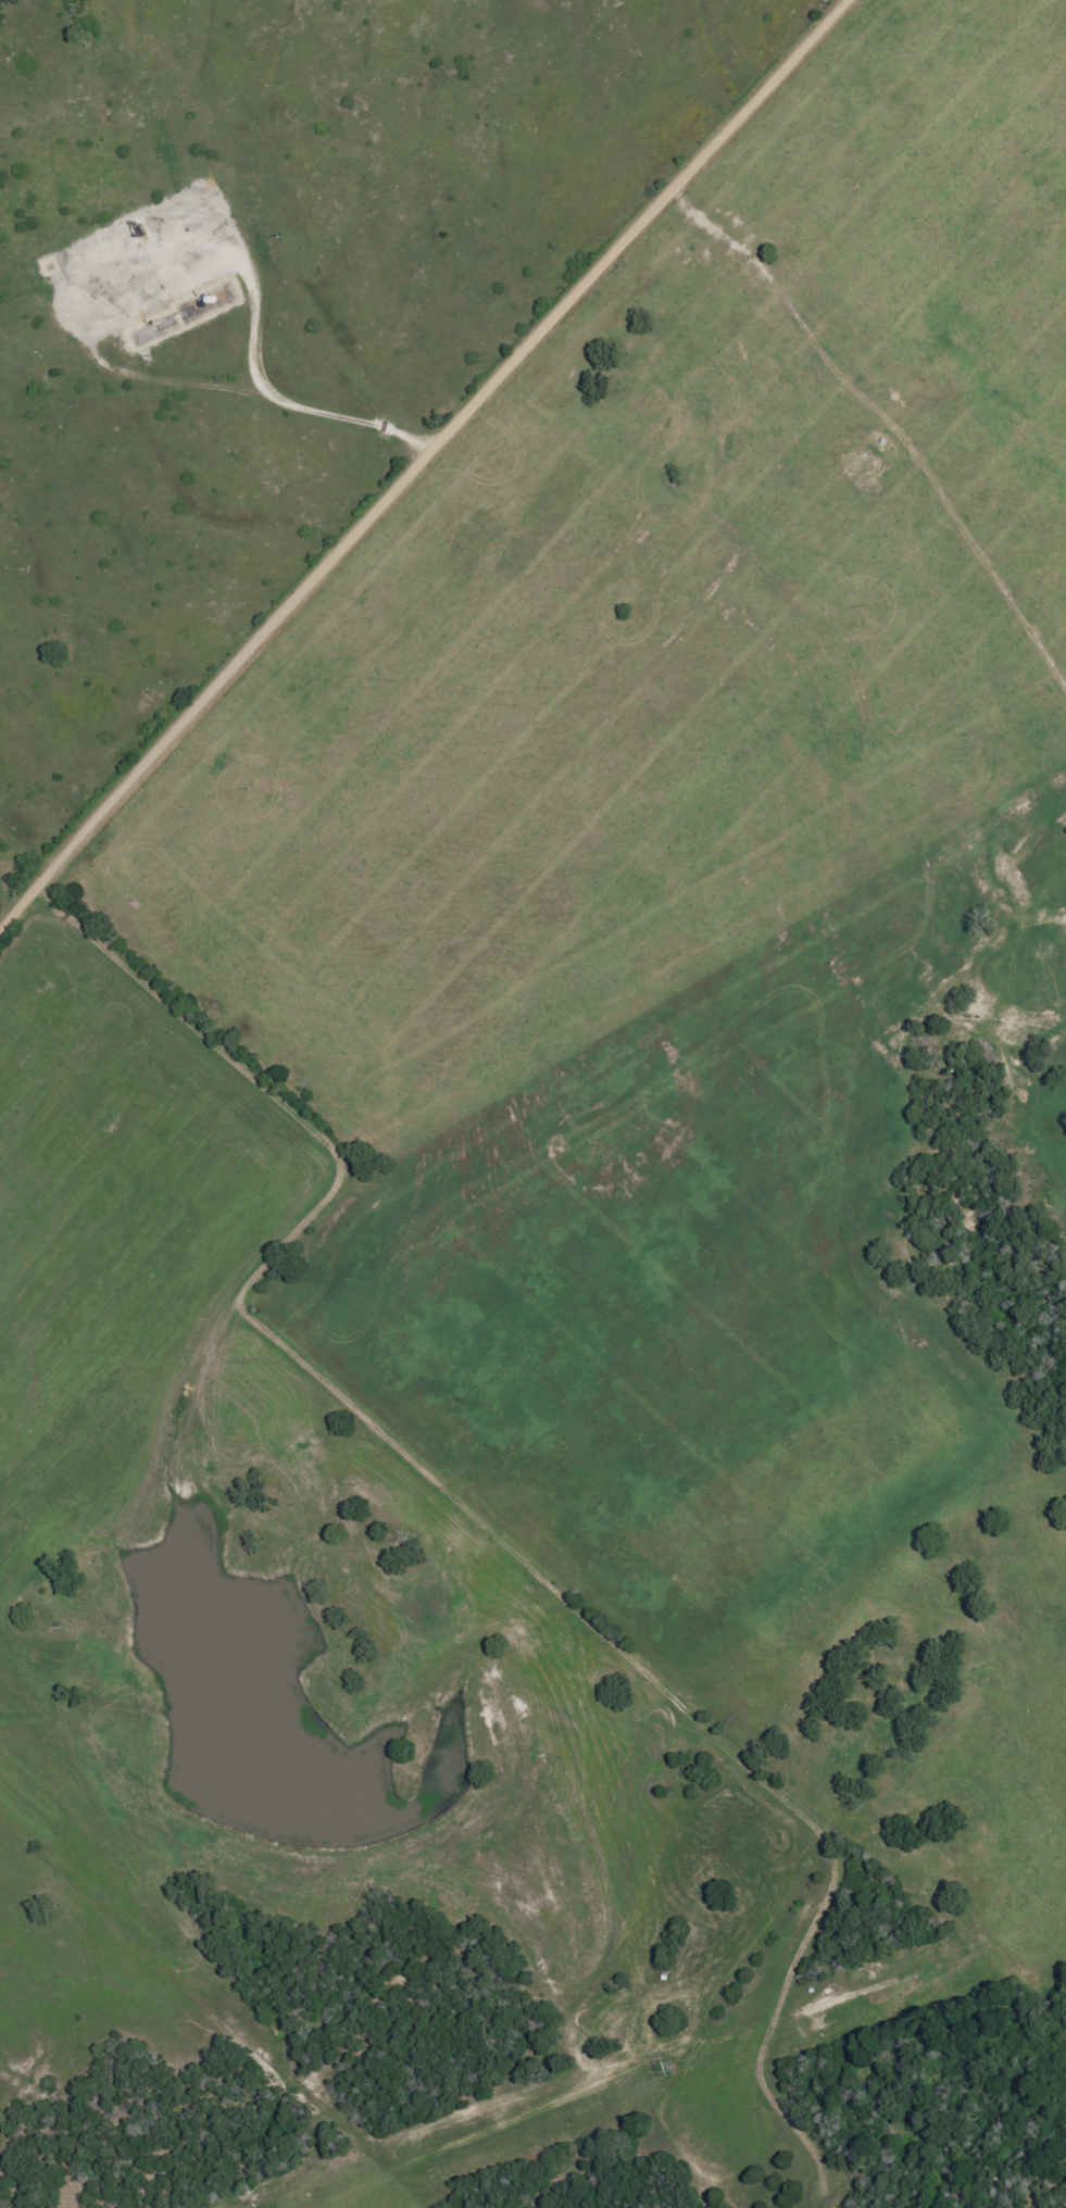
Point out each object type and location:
road: (419, 460)
power tower: (675, 2071)

